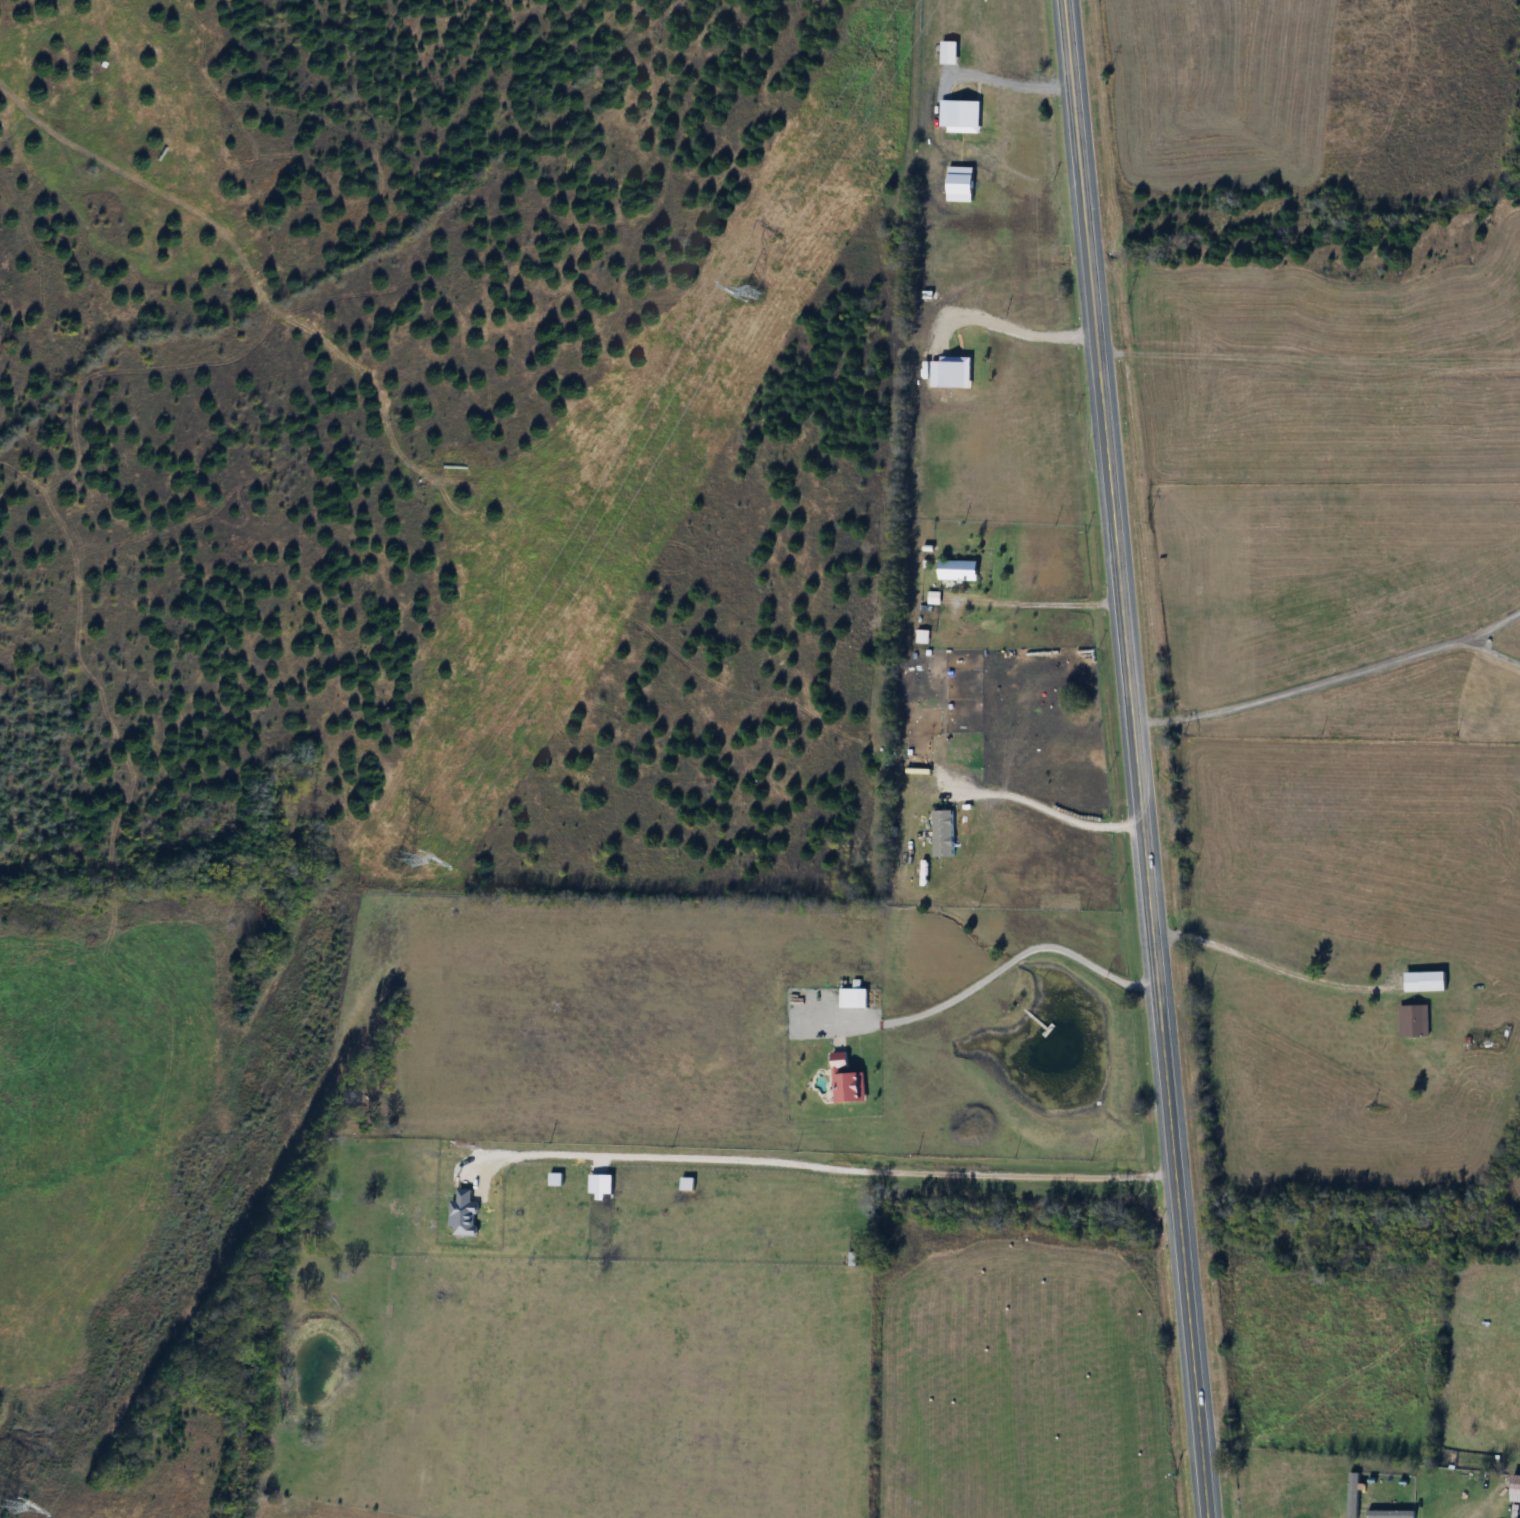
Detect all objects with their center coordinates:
road: (1010, 81)
power tower: (754, 290)
road: (1011, 326)
building: (959, 571)
road: (1040, 601)
road: (1138, 759)
road: (1049, 807)
power tower: (403, 857)
road: (1271, 964)
road: (983, 979)
building: (860, 998)
building: (1414, 1021)
building: (848, 1080)
road: (824, 1165)
building: (1516, 1489)
power tower: (6, 1504)

